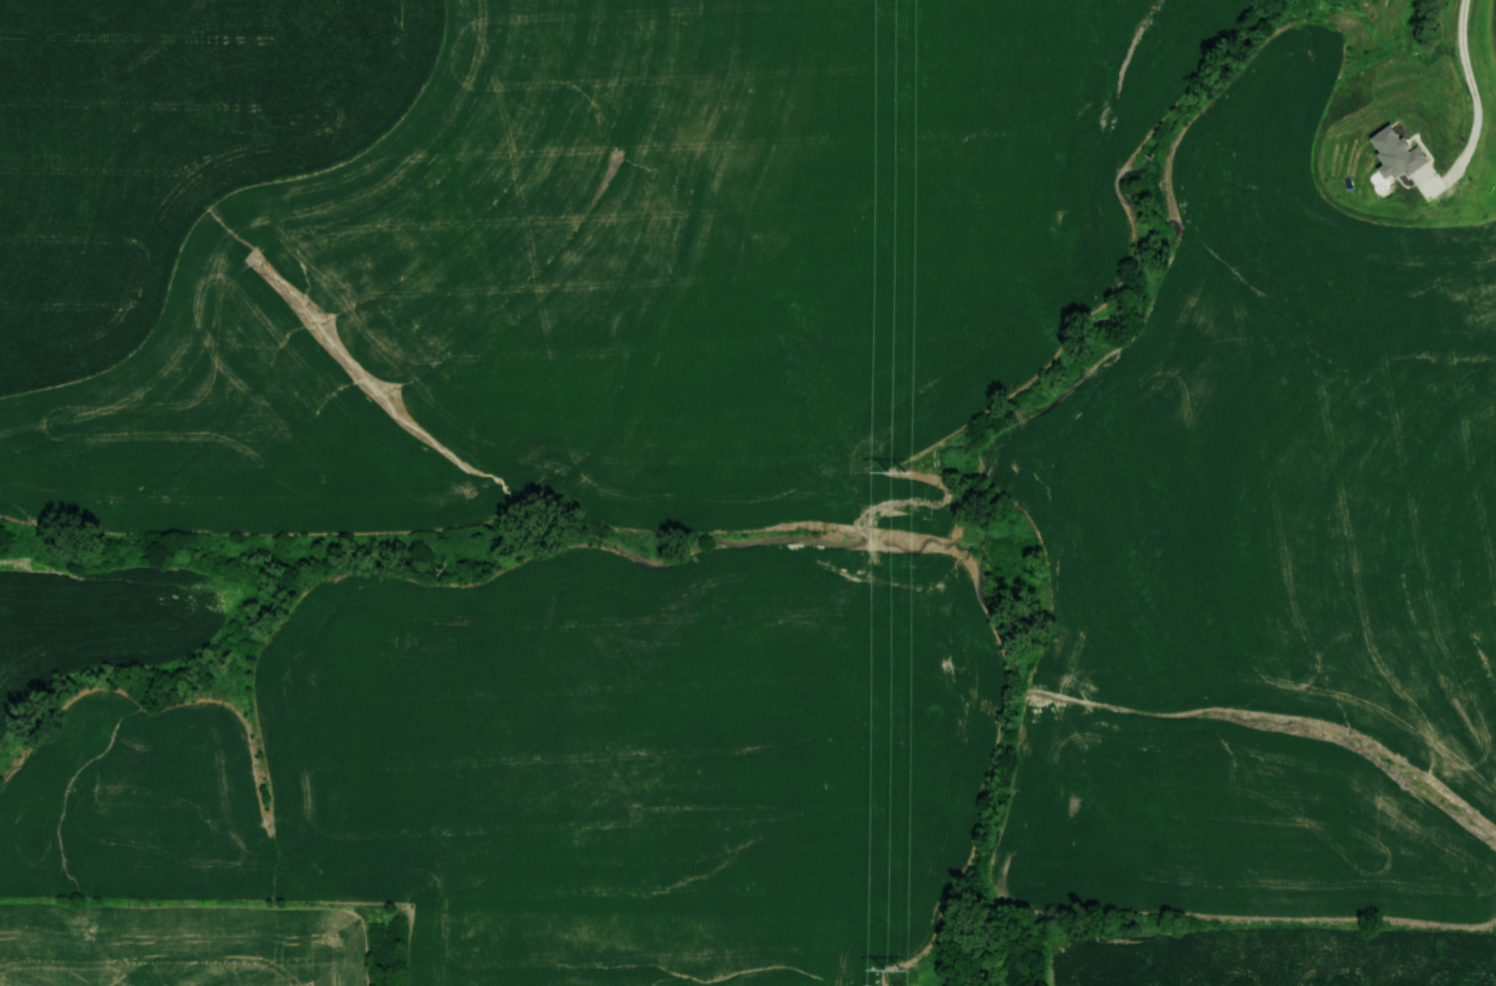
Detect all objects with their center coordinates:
road: (1476, 92)
power tower: (901, 475)

